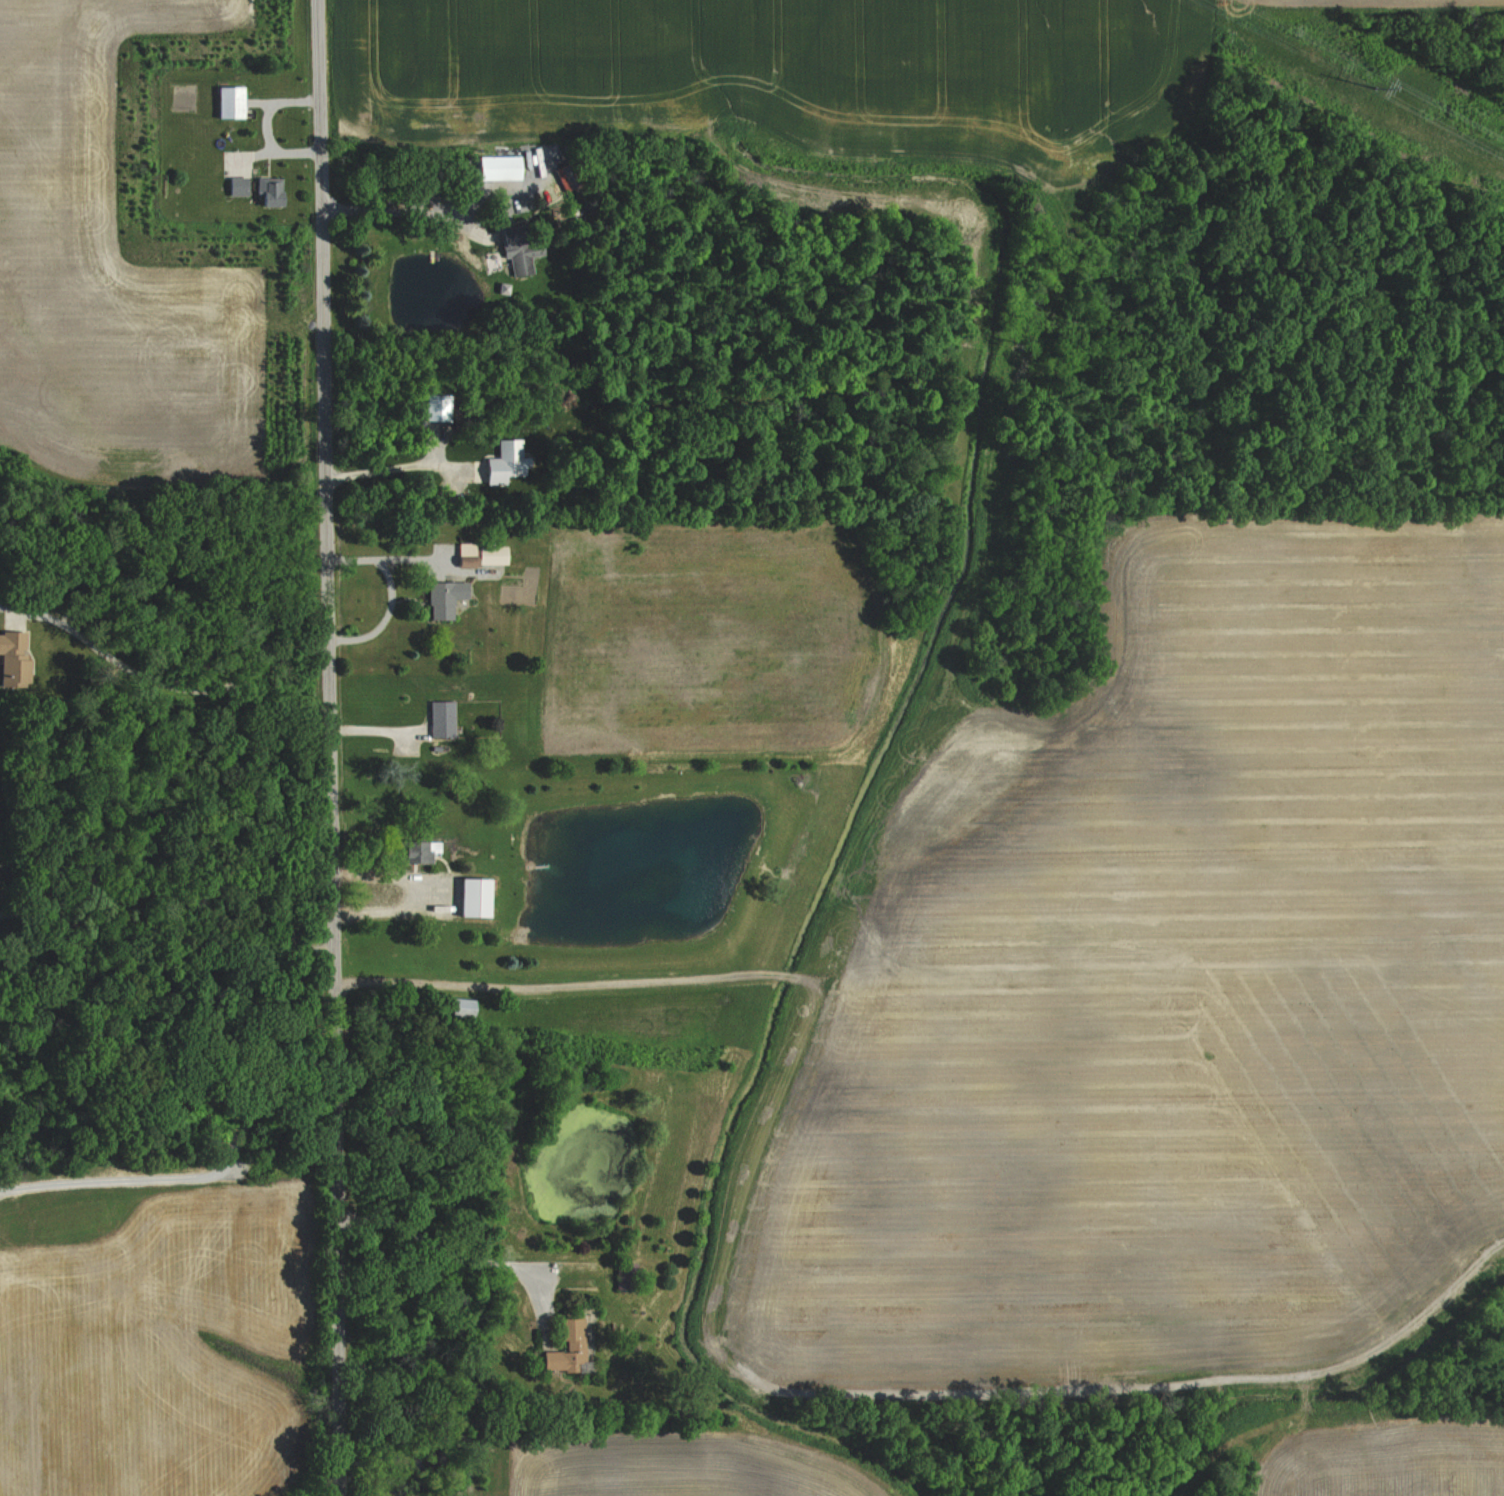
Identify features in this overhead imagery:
power tower: (1373, 81)
building: (223, 101)
road: (265, 126)
building: (491, 167)
building: (234, 185)
building: (264, 191)
road: (401, 210)
building: (498, 461)
road: (390, 470)
road: (388, 552)
road: (382, 615)
building: (10, 653)
road: (165, 678)
road: (326, 747)
road: (175, 891)
road: (463, 1245)
building: (559, 1353)

